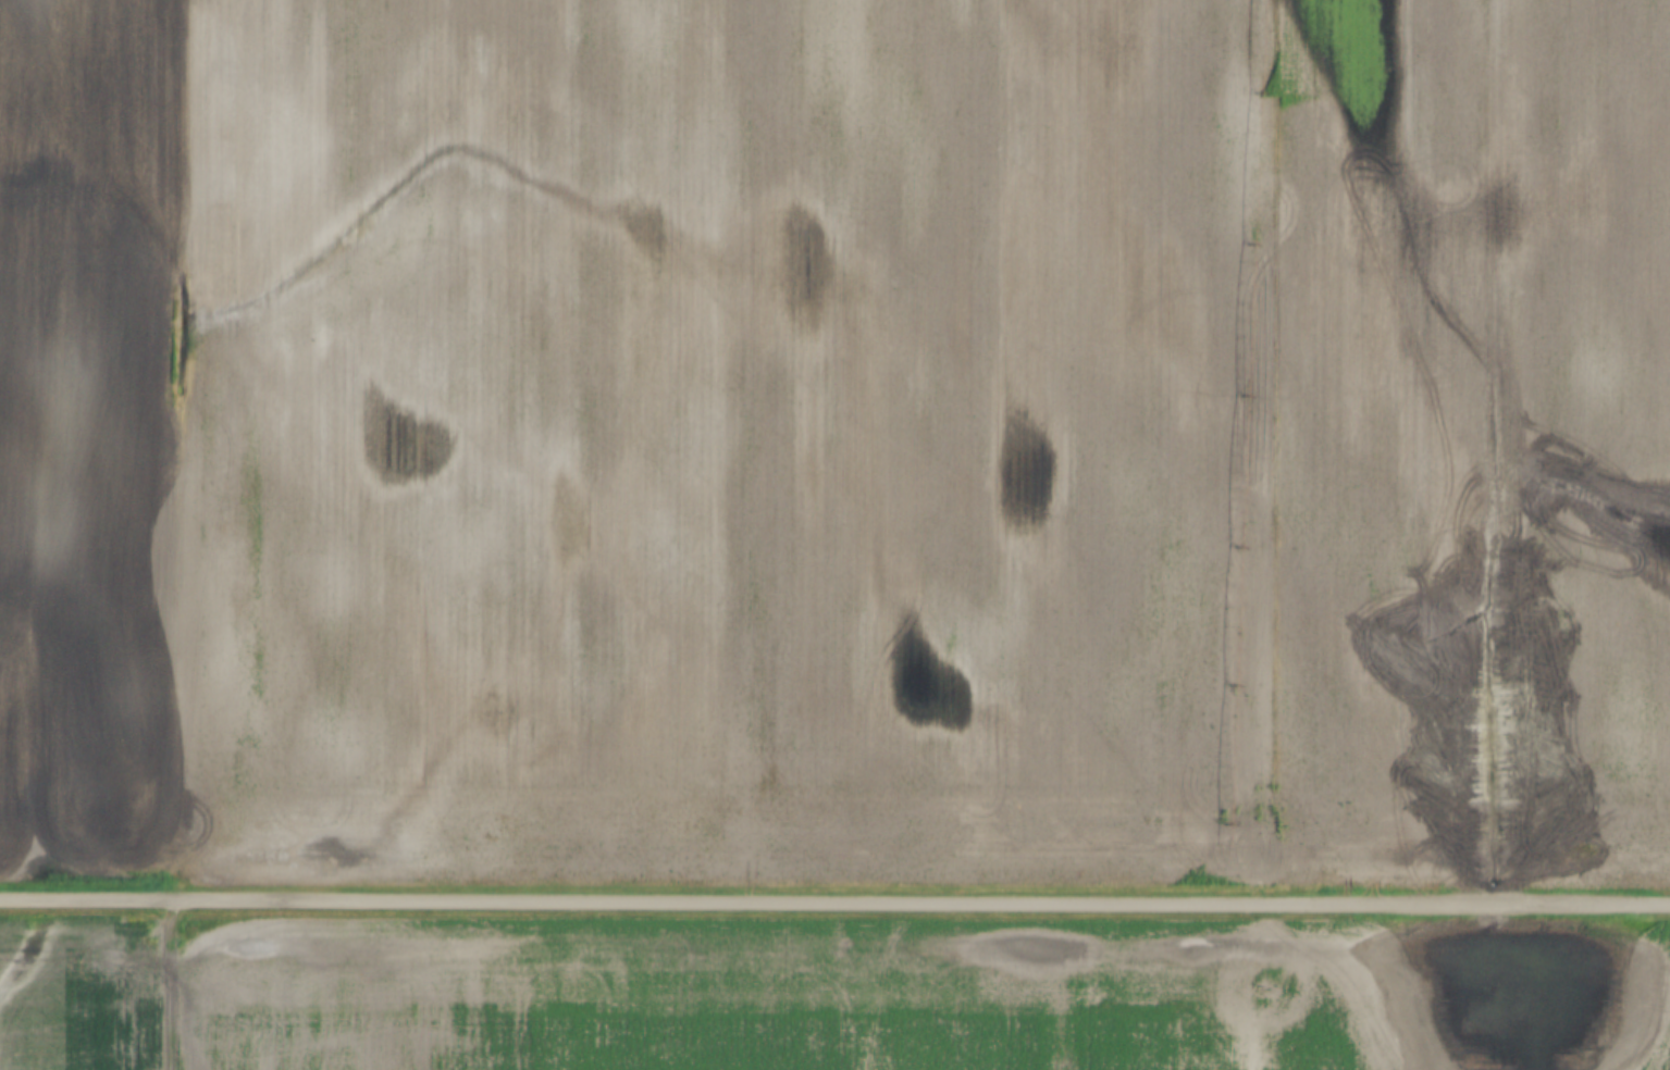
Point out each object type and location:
road: (79, 894)
road: (914, 904)

